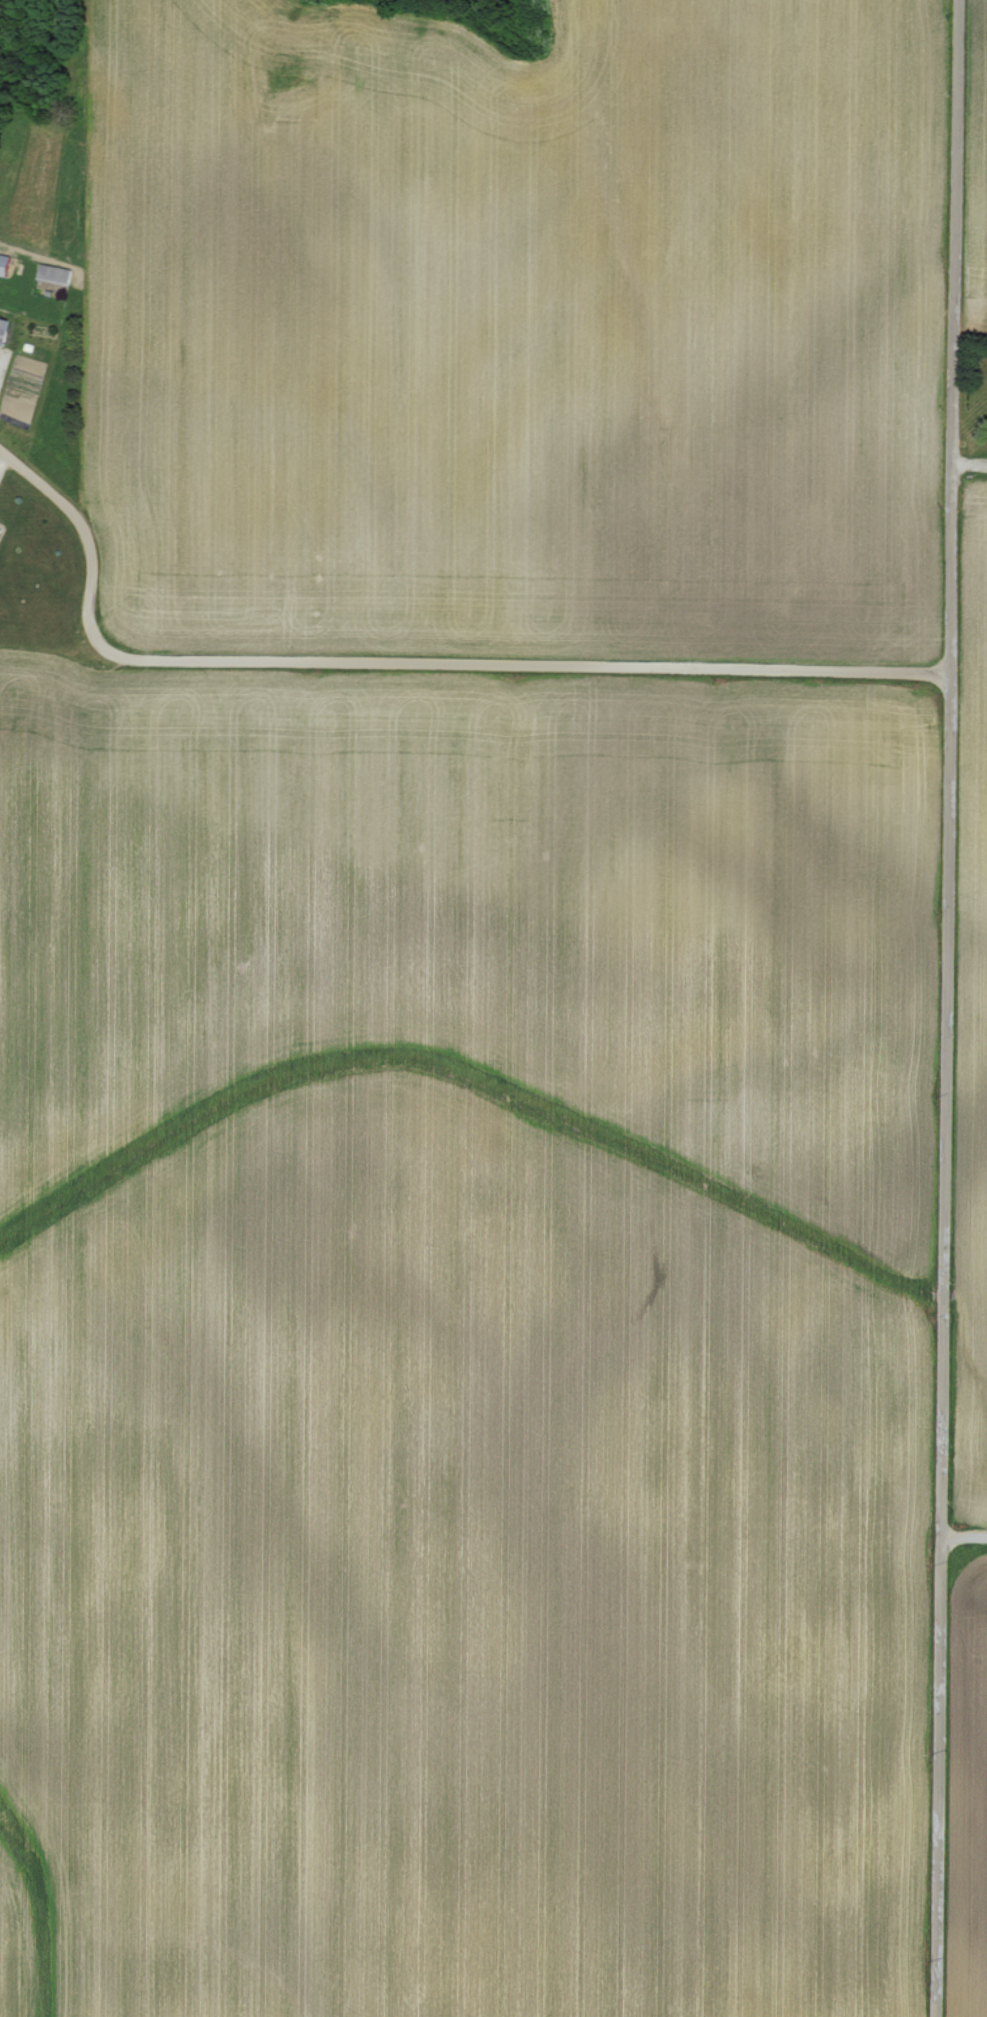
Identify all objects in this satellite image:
building: (2, 329)
road: (971, 464)
road: (403, 659)
road: (948, 1008)
road: (964, 1536)

